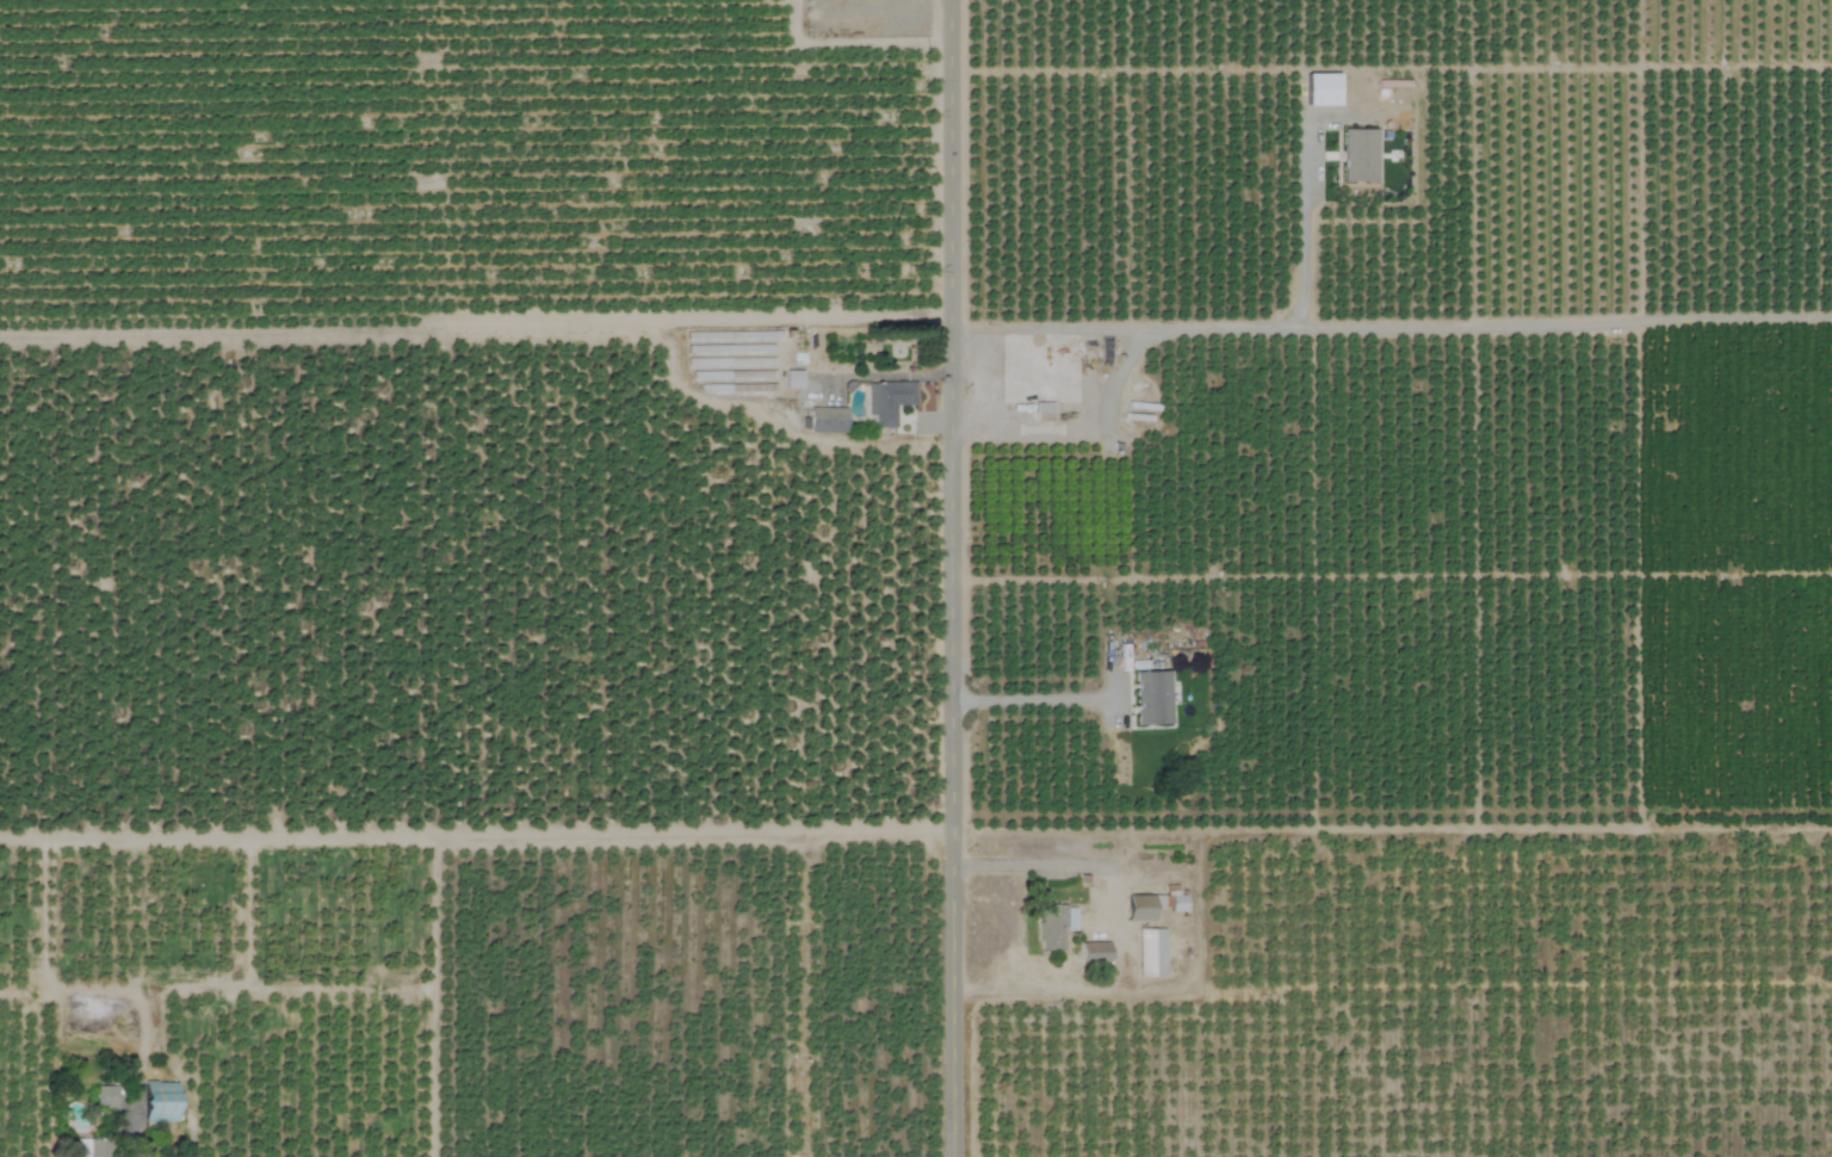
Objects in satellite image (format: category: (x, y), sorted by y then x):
building: (1355, 155)
road: (1302, 233)
road: (815, 315)
road: (1207, 318)
building: (885, 401)
building: (1038, 412)
building: (824, 420)
road: (958, 577)
building: (1149, 698)
road: (1036, 700)
road: (478, 828)
road: (1028, 865)
building: (1174, 903)
building: (1139, 907)
building: (1047, 927)
building: (1090, 952)
building: (1149, 952)
building: (103, 1097)
building: (156, 1101)
building: (88, 1147)
road: (135, 1153)

